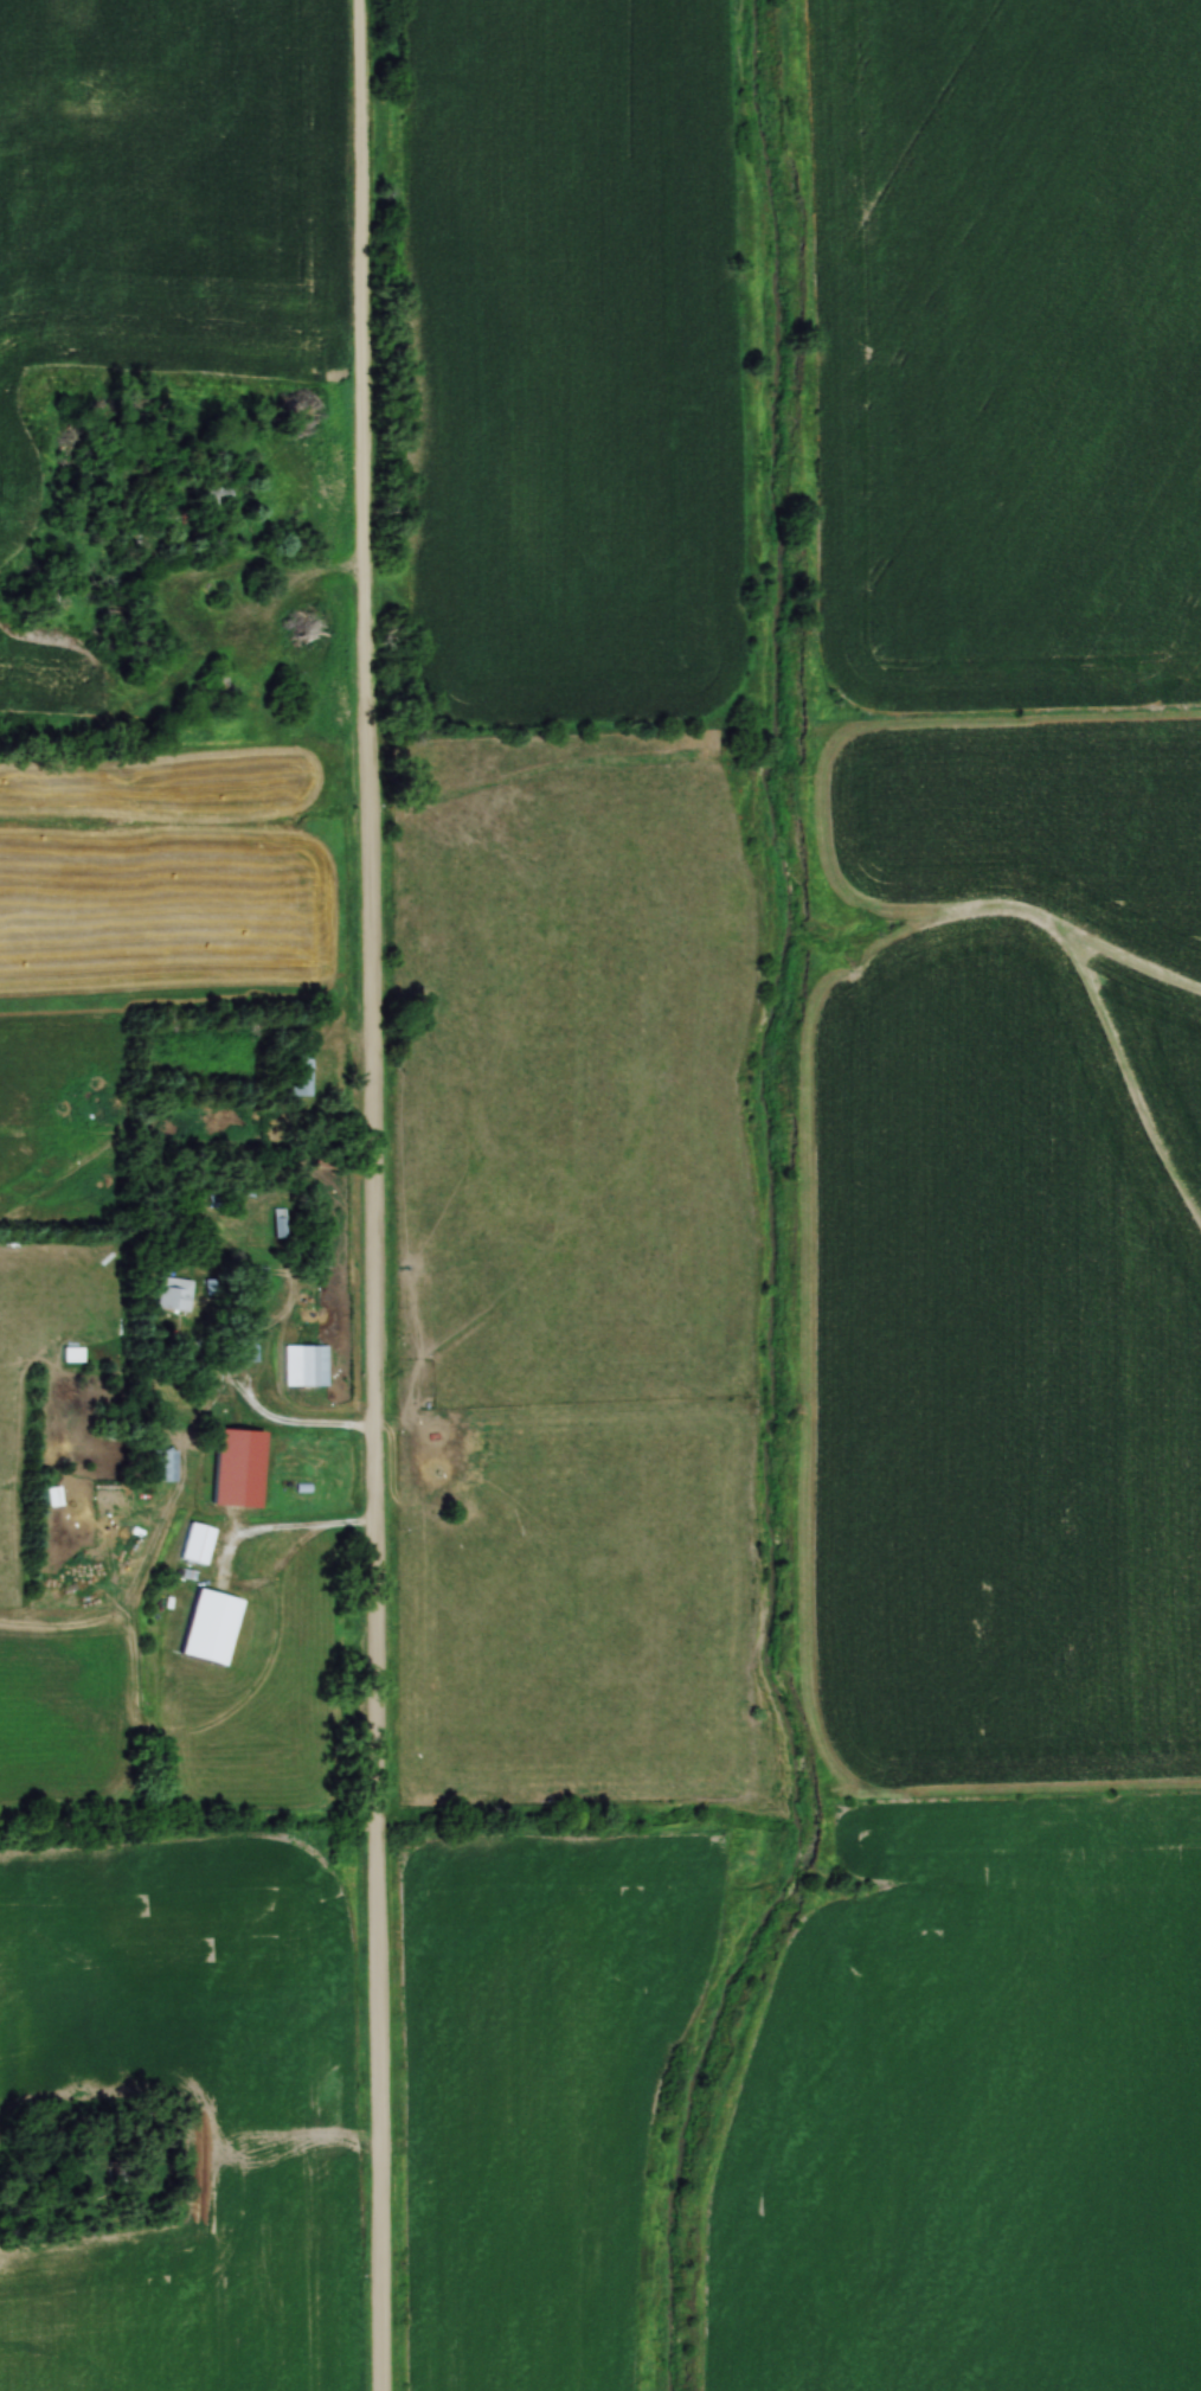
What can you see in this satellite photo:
building: (212, 501)
building: (300, 1072)
road: (371, 1194)
river: (772, 1206)
building: (277, 1220)
building: (172, 1291)
building: (71, 1352)
building: (304, 1363)
road: (263, 1421)
building: (161, 1462)
building: (197, 1541)
building: (208, 1624)

